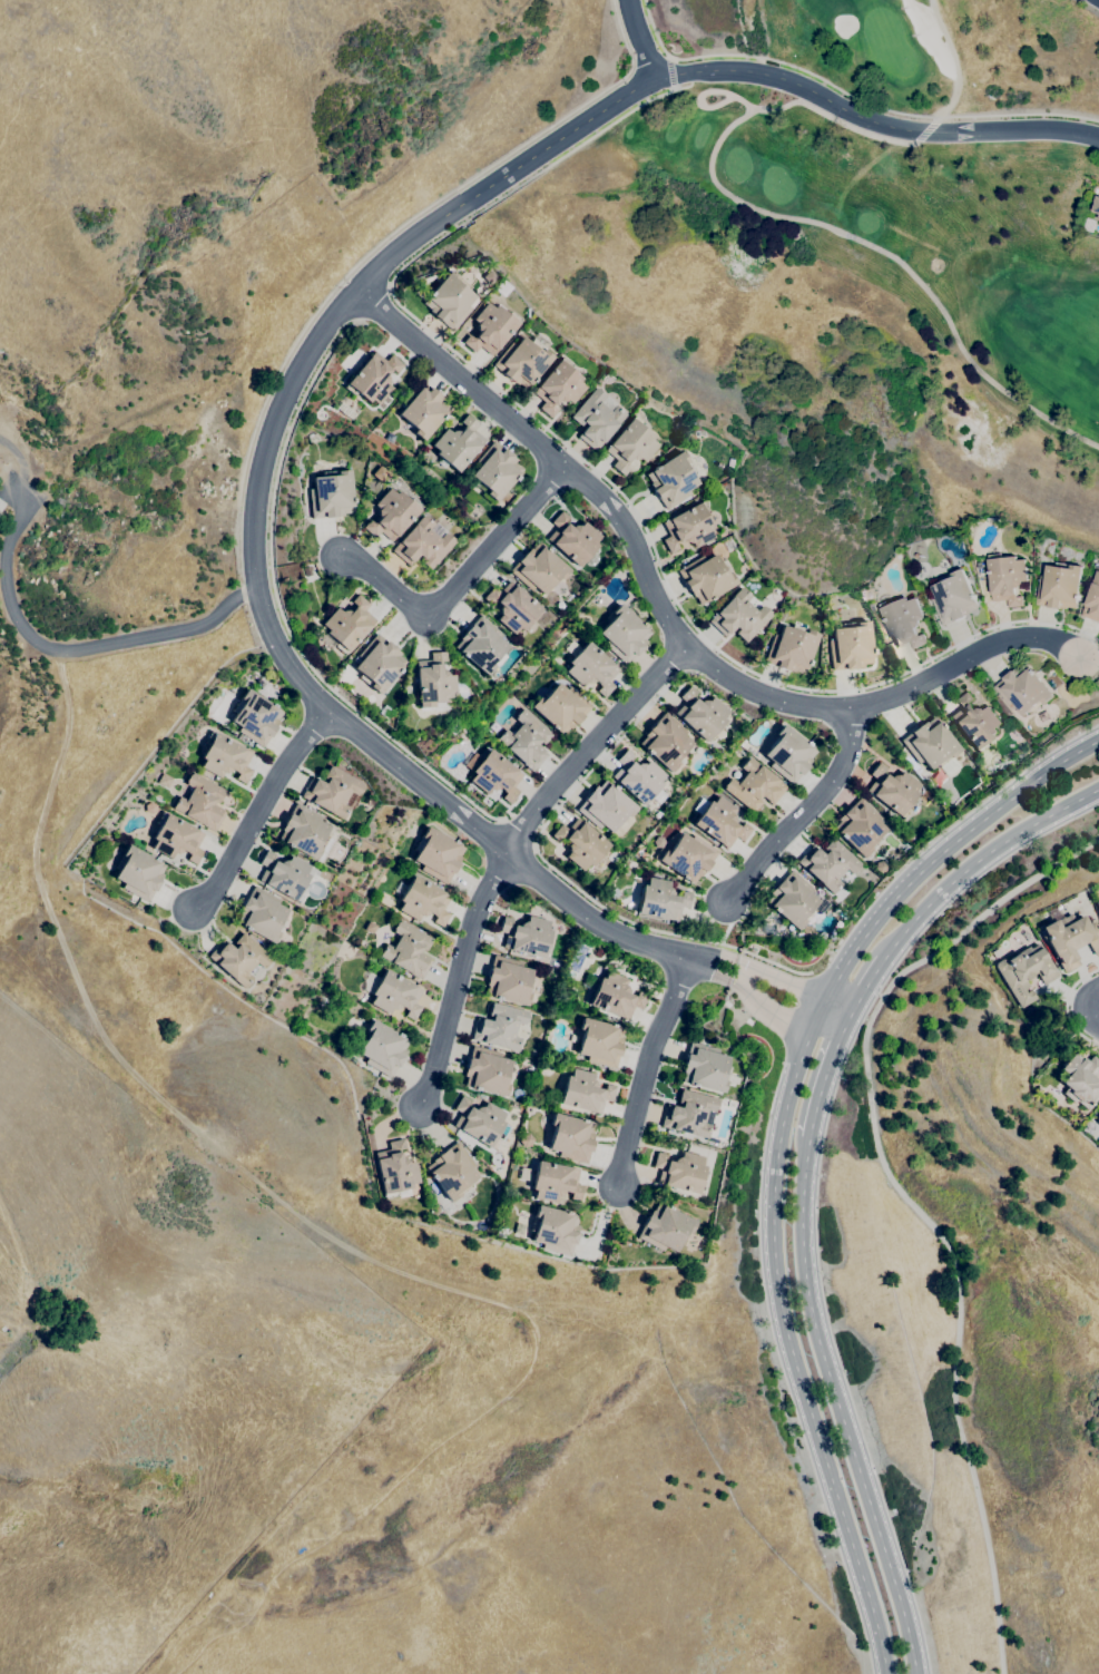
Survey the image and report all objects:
road: (1098, 0)
road: (640, 39)
road: (670, 74)
road: (850, 95)
road: (871, 130)
road: (514, 169)
park: (929, 175)
road: (534, 176)
building: (1097, 205)
road: (409, 221)
building: (1090, 225)
building: (489, 277)
building: (501, 288)
building: (449, 301)
road: (375, 305)
building: (490, 329)
building: (521, 362)
building: (373, 378)
building: (558, 388)
building: (423, 410)
building: (597, 418)
building: (459, 443)
building: (630, 444)
building: (495, 470)
building: (379, 473)
building: (671, 480)
building: (331, 495)
building: (501, 500)
road: (615, 510)
building: (0, 513)
building: (391, 515)
building: (687, 527)
building: (572, 539)
building: (422, 544)
building: (538, 568)
building: (705, 578)
building: (1008, 579)
road: (461, 581)
building: (1060, 587)
building: (954, 598)
building: (599, 600)
building: (1092, 601)
building: (512, 606)
road: (279, 611)
building: (834, 614)
building: (738, 616)
road: (688, 618)
building: (904, 621)
building: (349, 624)
building: (624, 634)
building: (481, 645)
building: (851, 647)
road: (85, 648)
building: (791, 649)
building: (377, 663)
road: (965, 664)
building: (590, 666)
building: (433, 683)
building: (1023, 689)
road: (315, 691)
building: (560, 707)
building: (700, 713)
building: (255, 717)
building: (736, 721)
building: (975, 722)
building: (526, 740)
building: (665, 741)
building: (931, 745)
road: (592, 750)
building: (788, 754)
building: (225, 757)
building: (493, 774)
building: (638, 777)
building: (165, 781)
building: (753, 786)
building: (892, 790)
building: (331, 791)
building: (200, 803)
building: (605, 806)
road: (262, 811)
road: (804, 814)
building: (719, 822)
building: (860, 826)
building: (303, 831)
road: (517, 834)
building: (176, 838)
building: (658, 842)
building: (580, 843)
road: (945, 852)
building: (438, 854)
building: (687, 856)
road: (981, 861)
building: (827, 864)
building: (880, 867)
road: (559, 871)
building: (139, 872)
building: (284, 875)
building: (660, 900)
building: (794, 900)
building: (423, 901)
building: (1098, 903)
building: (261, 914)
building: (370, 927)
building: (806, 930)
building: (527, 937)
building: (1070, 939)
building: (408, 950)
road: (717, 957)
building: (238, 958)
building: (1024, 971)
road: (710, 975)
road: (739, 975)
road: (1082, 977)
road: (457, 980)
building: (508, 980)
road: (786, 981)
road: (869, 986)
building: (392, 992)
building: (612, 995)
road: (842, 1005)
road: (1091, 1005)
road: (774, 1006)
road: (822, 1012)
road: (1075, 1022)
road: (847, 1024)
building: (500, 1027)
road: (827, 1031)
building: (599, 1042)
building: (382, 1048)
building: (705, 1067)
building: (485, 1071)
road: (648, 1073)
building: (1081, 1079)
road: (822, 1086)
building: (583, 1091)
building: (689, 1114)
building: (1098, 1119)
building: (479, 1122)
building: (570, 1137)
building: (526, 1139)
building: (395, 1171)
building: (452, 1171)
building: (680, 1172)
building: (551, 1181)
road: (912, 1202)
building: (480, 1226)
building: (664, 1227)
building: (555, 1230)
building: (500, 1231)
road: (792, 1352)
road: (840, 1408)

